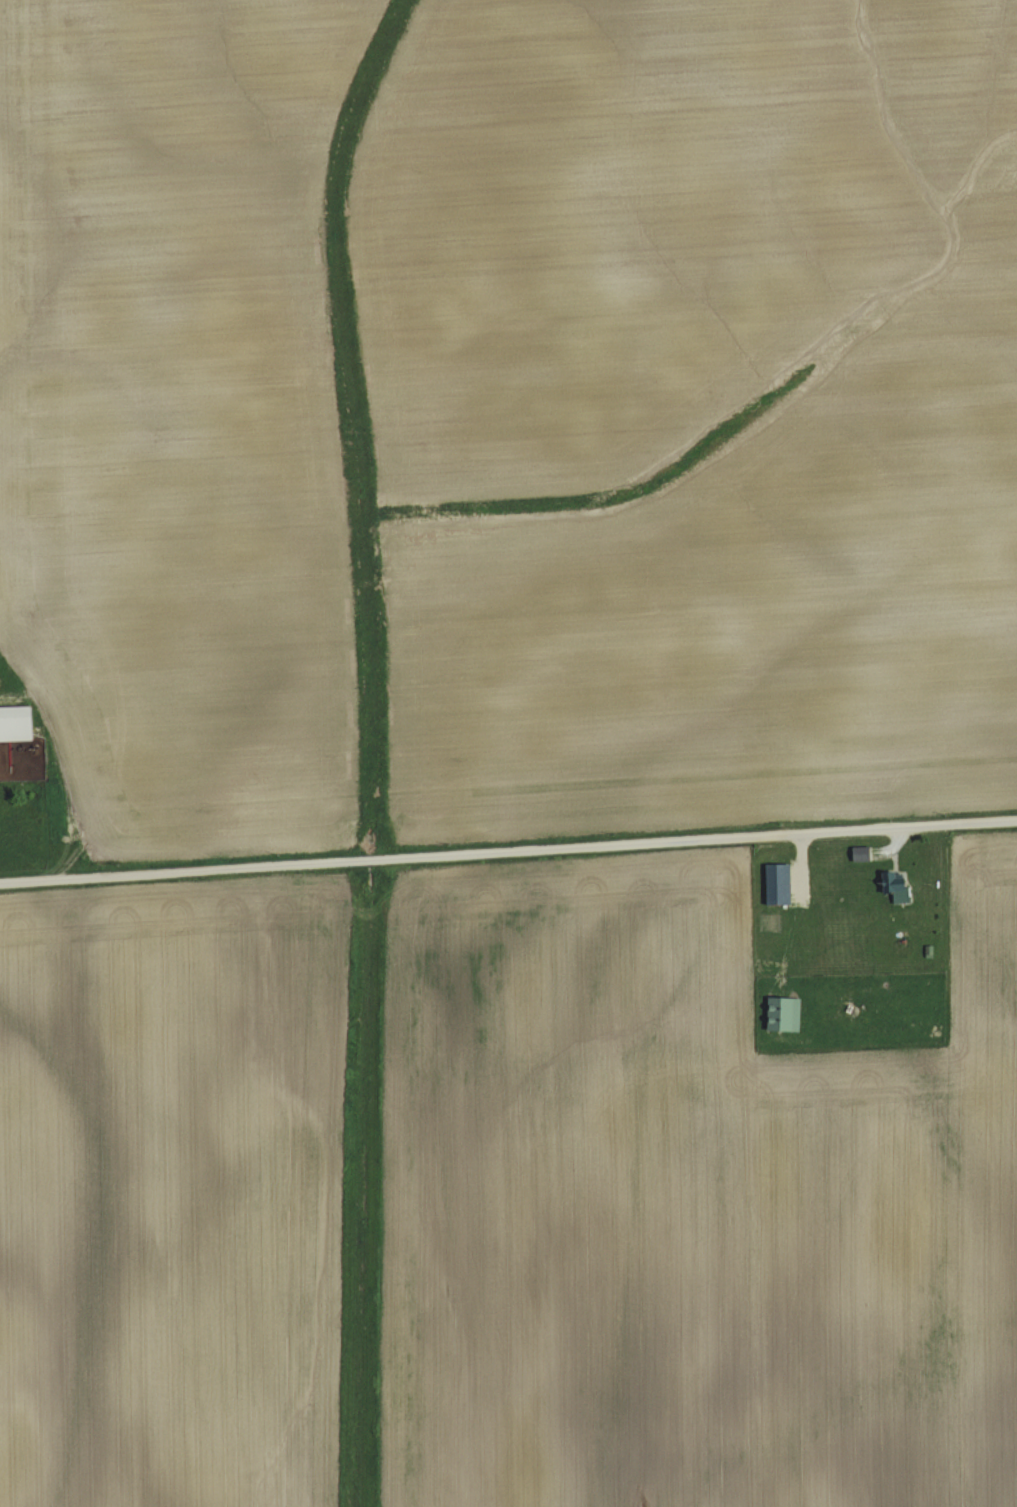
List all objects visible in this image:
building: (17, 722)
road: (67, 765)
road: (508, 851)
building: (861, 855)
building: (900, 894)
building: (783, 1015)

